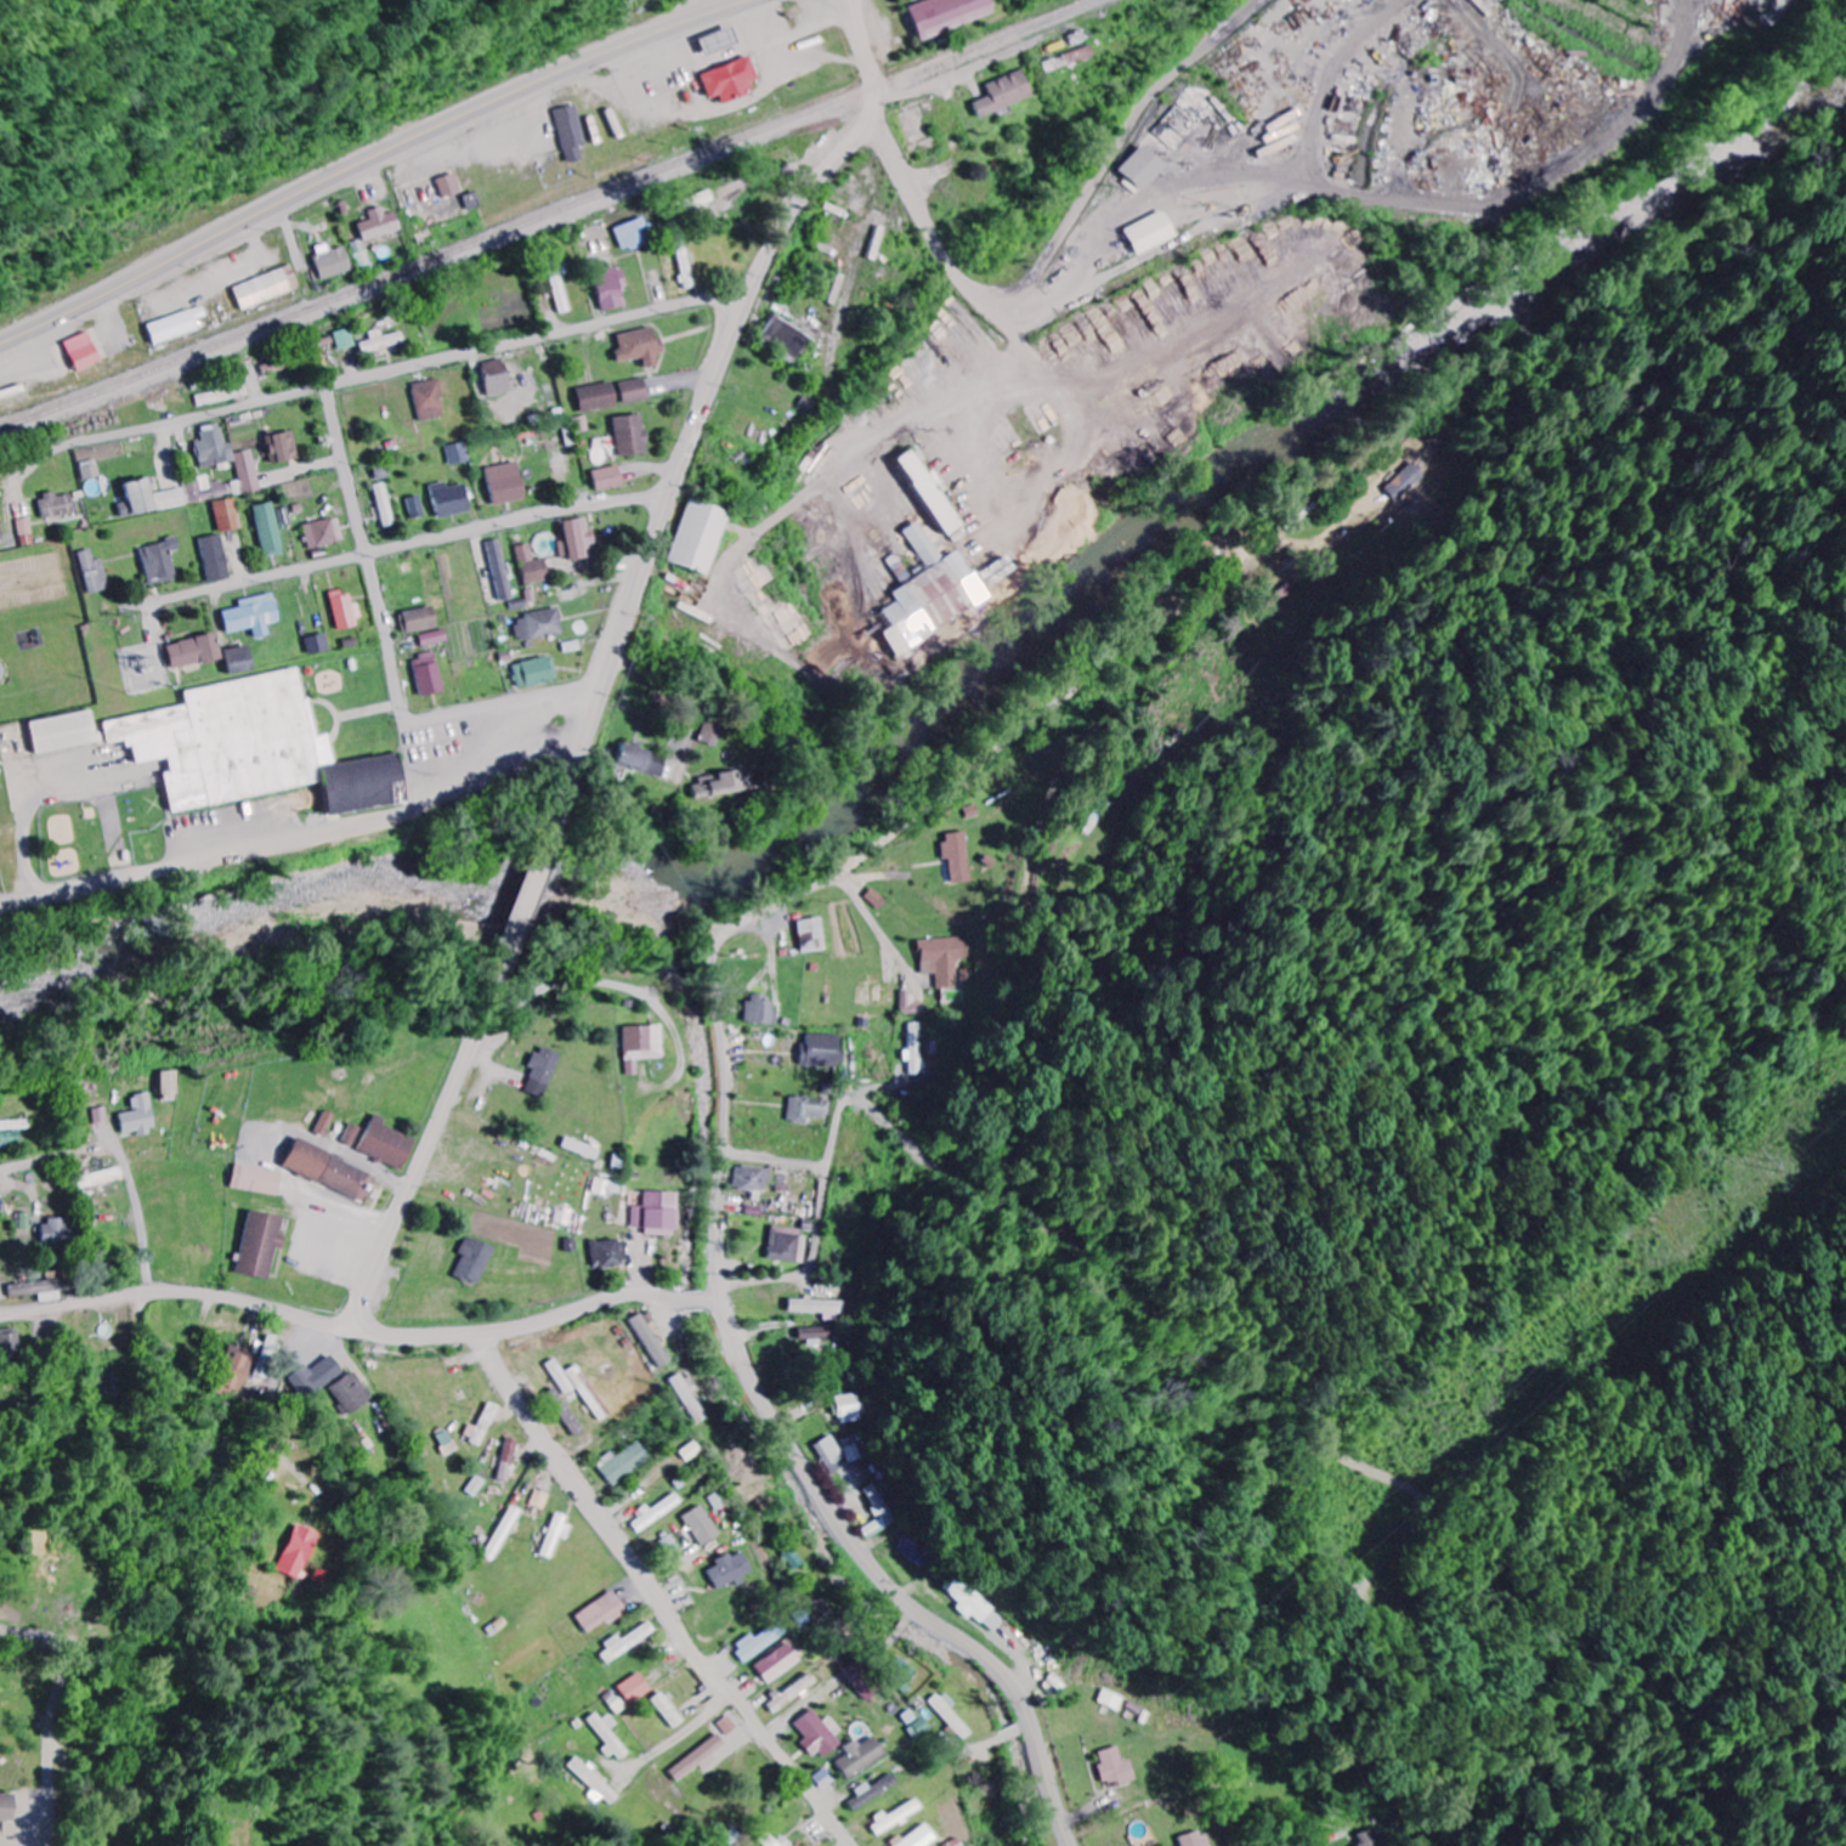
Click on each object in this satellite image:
building: (949, 15)
building: (725, 38)
road: (951, 77)
building: (732, 80)
building: (1006, 94)
building: (572, 132)
road: (372, 159)
building: (1143, 168)
building: (451, 186)
building: (702, 199)
railway: (544, 215)
building: (381, 225)
building: (1150, 232)
building: (635, 234)
building: (334, 261)
building: (270, 287)
building: (612, 288)
building: (179, 325)
building: (346, 339)
building: (787, 339)
building: (384, 340)
building: (640, 346)
building: (86, 351)
road: (397, 373)
building: (498, 378)
road: (713, 383)
building: (634, 390)
building: (223, 396)
building: (598, 397)
building: (430, 400)
building: (581, 424)
building: (630, 436)
building: (230, 444)
building: (283, 448)
building: (459, 453)
building: (247, 465)
building: (381, 470)
building: (92, 471)
building: (607, 479)
building: (1410, 482)
building: (505, 483)
building: (928, 491)
building: (151, 499)
building: (449, 499)
building: (385, 505)
building: (58, 506)
building: (415, 506)
building: (227, 515)
building: (268, 530)
building: (1, 532)
building: (28, 532)
building: (324, 533)
building: (697, 537)
building: (577, 540)
road: (409, 544)
building: (921, 544)
building: (215, 559)
building: (160, 561)
building: (531, 566)
building: (498, 570)
building: (95, 572)
building: (930, 602)
building: (344, 611)
building: (253, 616)
building: (418, 621)
building: (538, 624)
building: (432, 638)
building: (316, 645)
road: (387, 649)
building: (193, 652)
building: (238, 661)
building: (534, 673)
building: (426, 674)
river: (968, 686)
building: (64, 732)
building: (708, 732)
building: (253, 749)
building: (638, 761)
building: (715, 786)
road: (870, 855)
building: (959, 856)
road: (532, 885)
building: (878, 899)
building: (814, 934)
building: (947, 958)
building: (916, 1004)
building: (763, 1009)
building: (644, 1044)
building: (917, 1049)
building: (825, 1051)
building: (545, 1071)
building: (169, 1086)
road: (856, 1091)
building: (811, 1109)
building: (140, 1115)
building: (323, 1123)
building: (12, 1125)
building: (380, 1143)
road: (778, 1159)
power tower: (1749, 1160)
road: (36, 1161)
building: (332, 1171)
building: (755, 1178)
building: (257, 1179)
building: (661, 1213)
building: (60, 1233)
building: (788, 1244)
building: (262, 1245)
building: (612, 1252)
building: (477, 1261)
road: (814, 1262)
building: (45, 1289)
road: (185, 1290)
road: (685, 1299)
building: (821, 1306)
building: (819, 1335)
building: (653, 1341)
building: (12, 1342)
building: (271, 1357)
building: (237, 1372)
building: (318, 1376)
building: (565, 1376)
building: (353, 1392)
building: (593, 1393)
building: (691, 1399)
building: (851, 1409)
building: (487, 1426)
building: (453, 1442)
road: (775, 1442)
building: (832, 1454)
building: (514, 1459)
building: (629, 1463)
building: (482, 1485)
building: (659, 1511)
building: (704, 1525)
building: (564, 1535)
building: (673, 1545)
building: (301, 1552)
building: (795, 1558)
building: (732, 1570)
road: (659, 1598)
building: (970, 1604)
building: (607, 1612)
road: (904, 1627)
building: (764, 1641)
building: (632, 1642)
building: (782, 1664)
building: (866, 1681)
building: (641, 1688)
building: (794, 1694)
building: (1114, 1699)
road: (55, 1706)
building: (952, 1714)
building: (734, 1725)
building: (822, 1734)
road: (1013, 1734)
building: (615, 1735)
building: (865, 1756)
building: (706, 1759)
building: (1117, 1767)
building: (599, 1782)
building: (877, 1791)
building: (9, 1805)
park: (307, 1805)
building: (900, 1817)
building: (922, 1836)
building: (1372, 1837)
building: (1197, 1840)
building: (782, 1841)
road: (1278, 1844)

